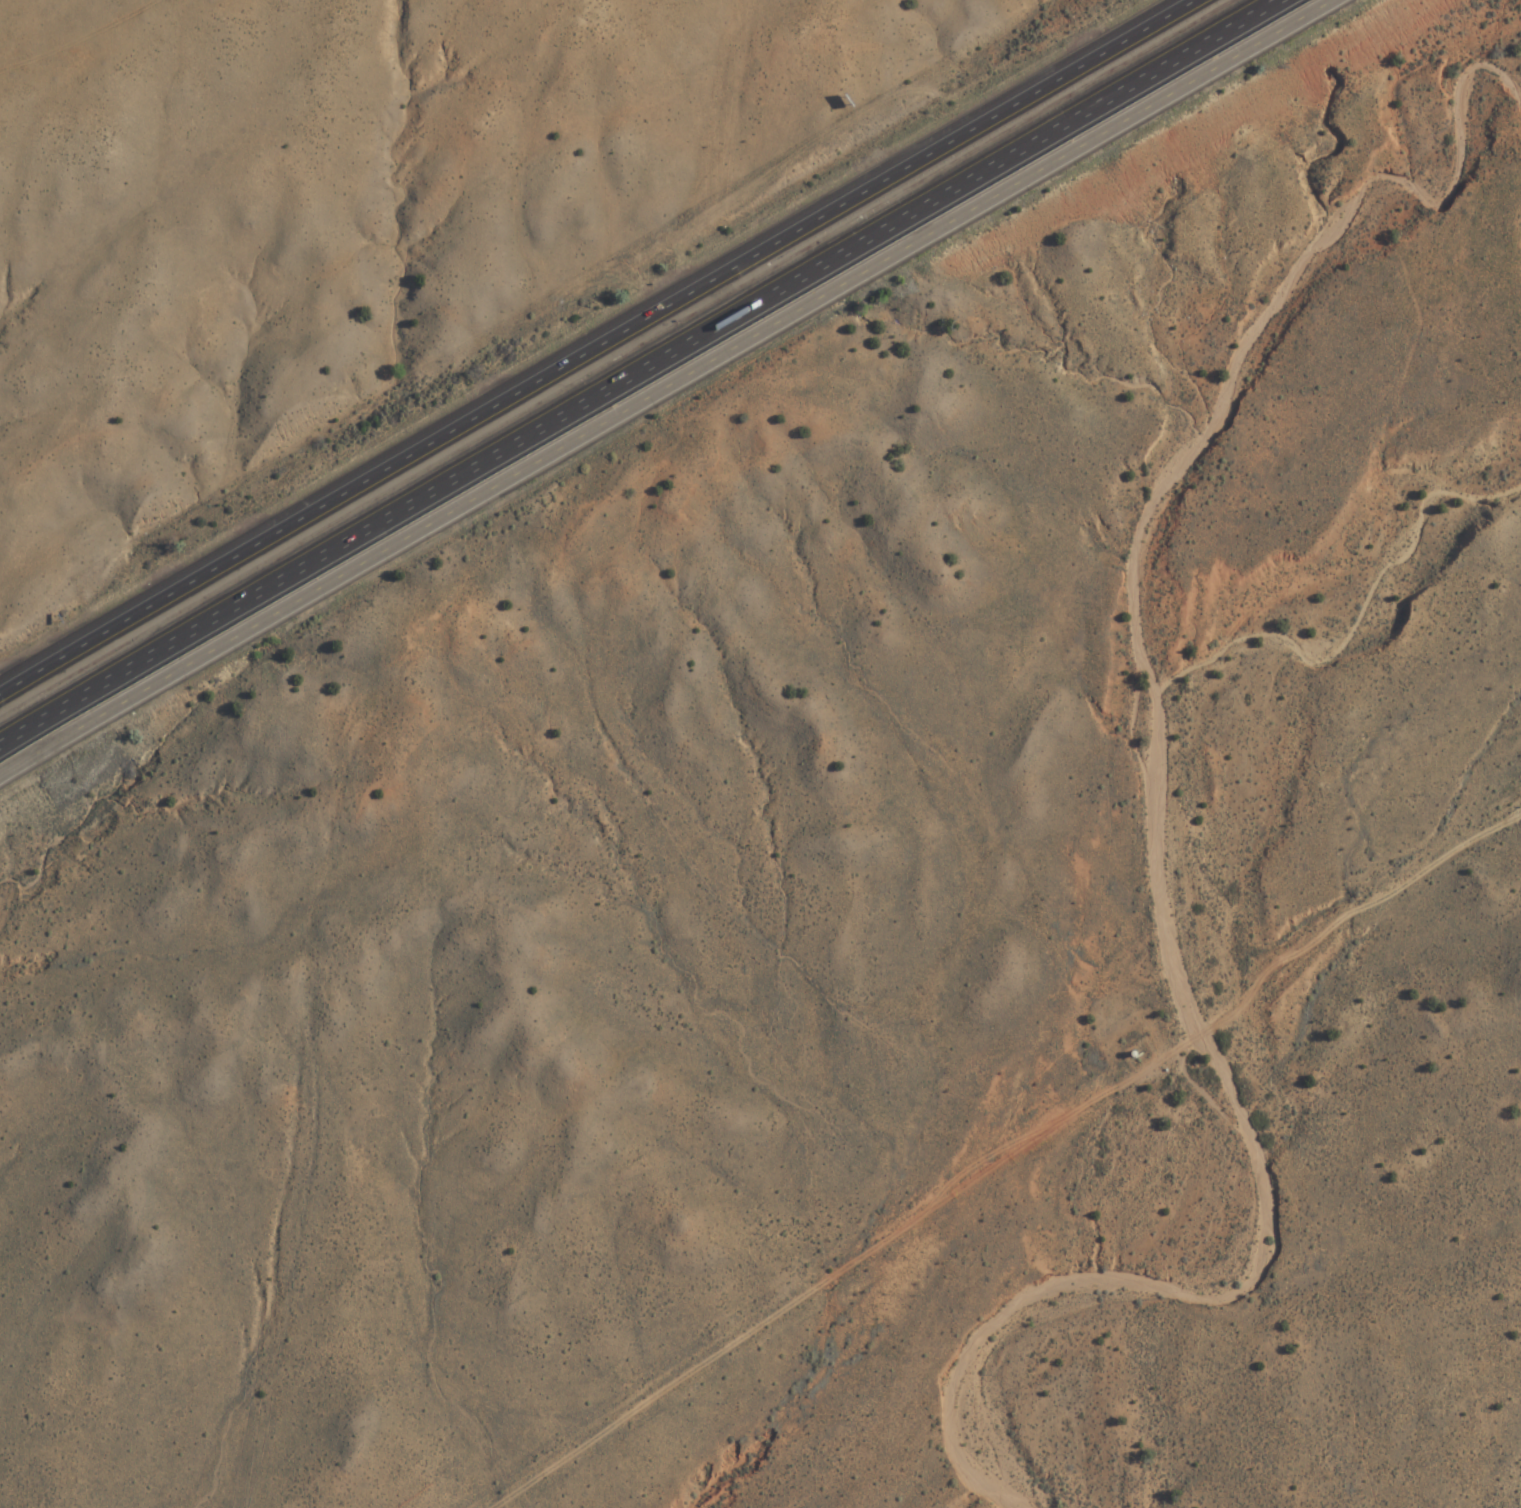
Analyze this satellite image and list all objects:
road: (602, 349)
road: (642, 377)
road: (666, 387)
building: (1132, 1052)
storage tank: (1132, 1052)

